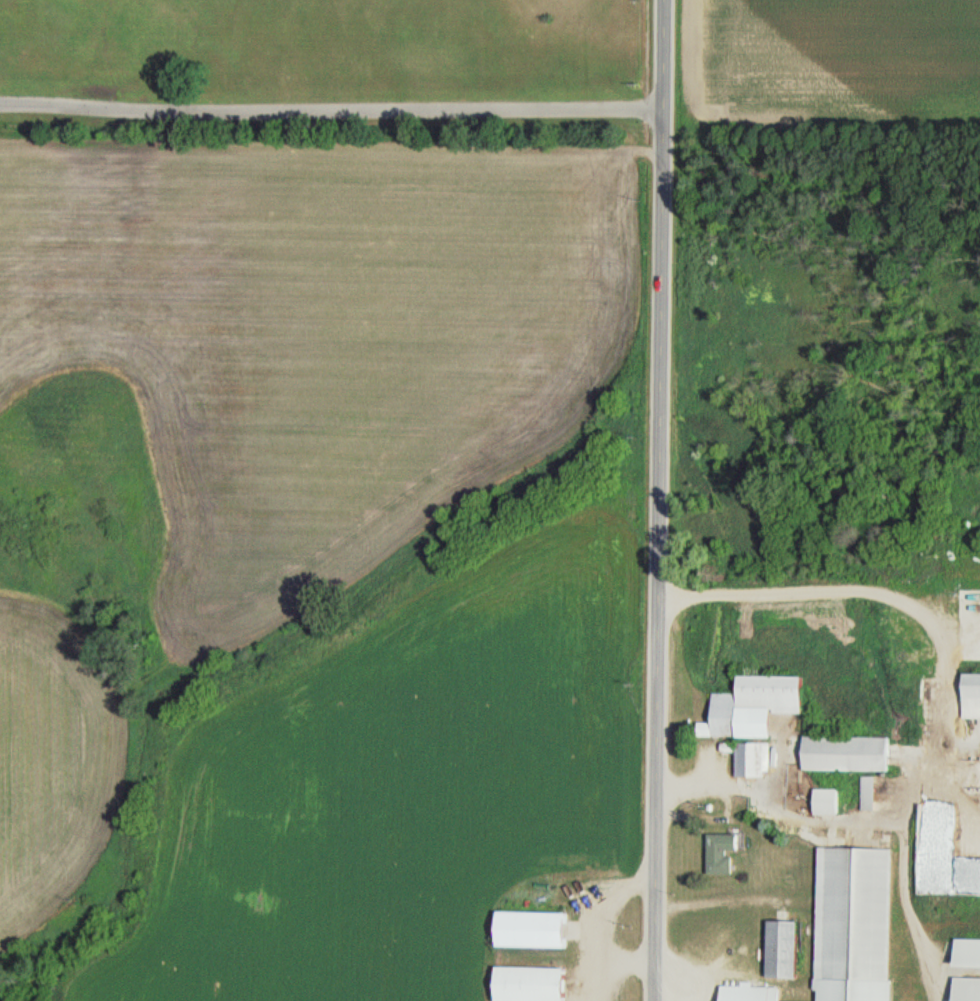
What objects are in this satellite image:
road: (330, 110)
road: (655, 500)
building: (968, 696)
road: (940, 705)
building: (748, 706)
building: (840, 754)
building: (748, 759)
building: (976, 769)
building: (968, 823)
building: (719, 852)
building: (930, 852)
road: (716, 898)
road: (904, 902)
building: (853, 914)
building: (527, 930)
building: (776, 949)
building: (964, 953)
building: (523, 984)
building: (963, 989)

